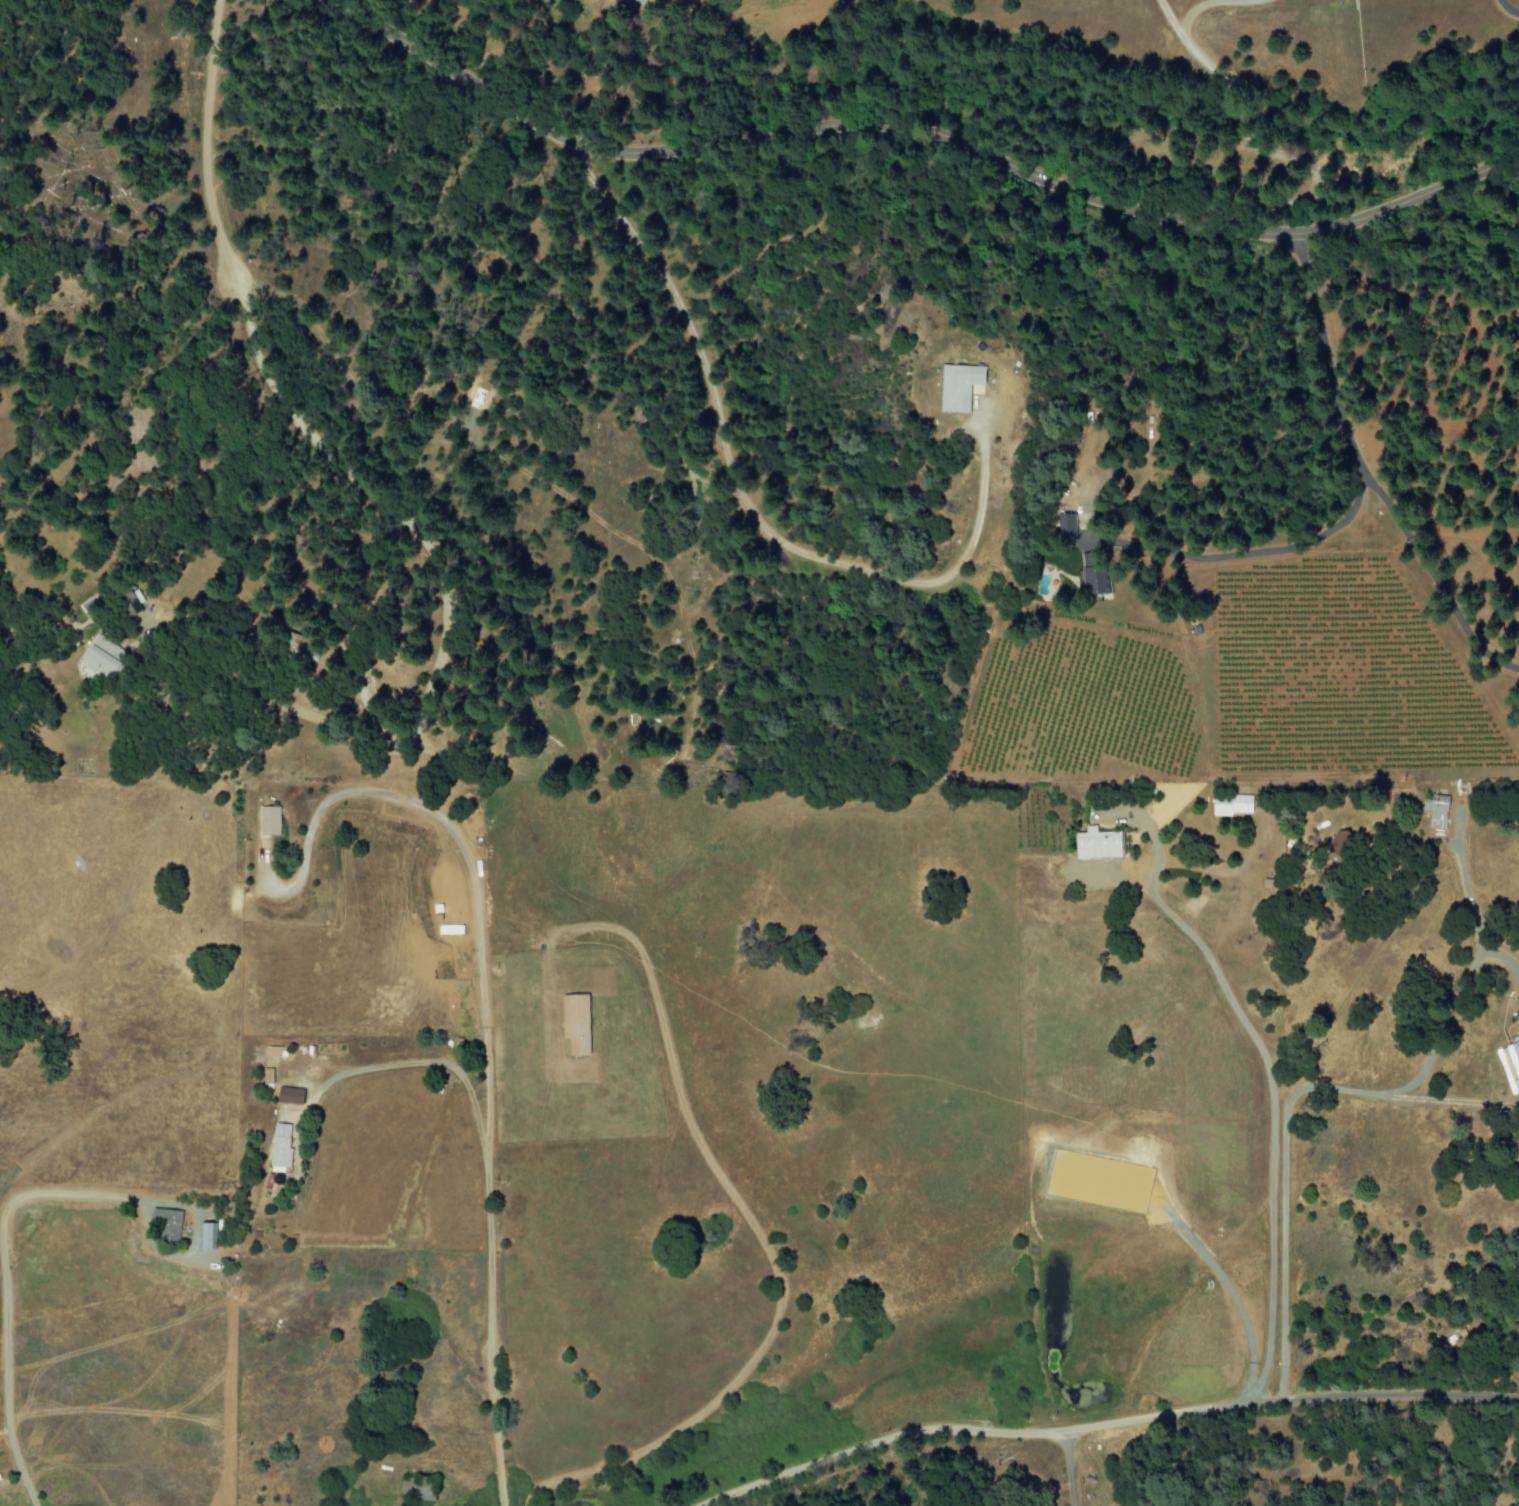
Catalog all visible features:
road: (915, 140)
road: (203, 143)
building: (958, 385)
road: (751, 508)
building: (1066, 524)
building: (1094, 578)
building: (131, 603)
road: (441, 617)
building: (102, 657)
building: (1231, 805)
building: (1437, 811)
building: (269, 820)
building: (1097, 843)
building: (576, 1023)
building: (1512, 1064)
building: (267, 1076)
road: (1324, 1092)
building: (290, 1095)
road: (1264, 1098)
building: (281, 1146)
road: (75, 1195)
building: (166, 1225)
road: (485, 1225)
building: (205, 1236)
road: (1226, 1293)
road: (3, 1398)
road: (1104, 1423)
road: (1067, 1469)

